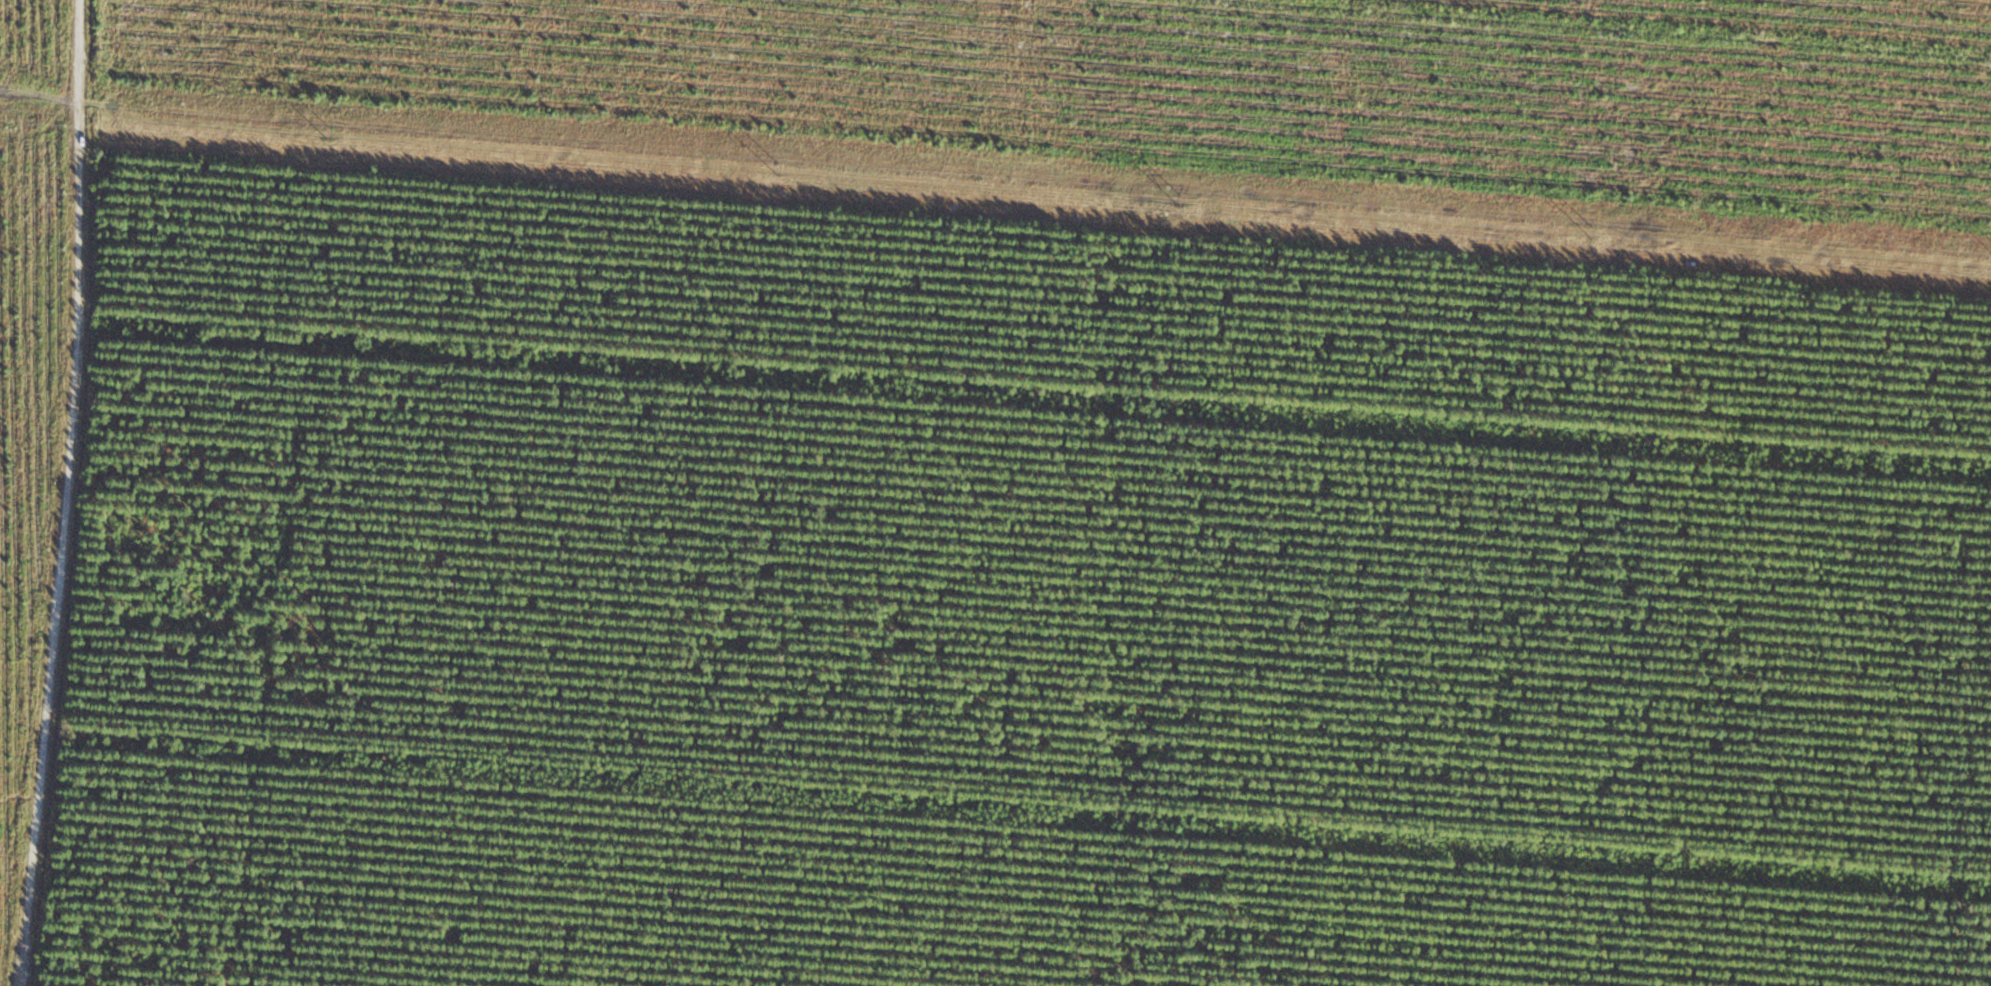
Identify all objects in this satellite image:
power tower: (327, 131)
power tower: (778, 167)
power tower: (1182, 200)
power tower: (1591, 230)
road: (55, 493)

